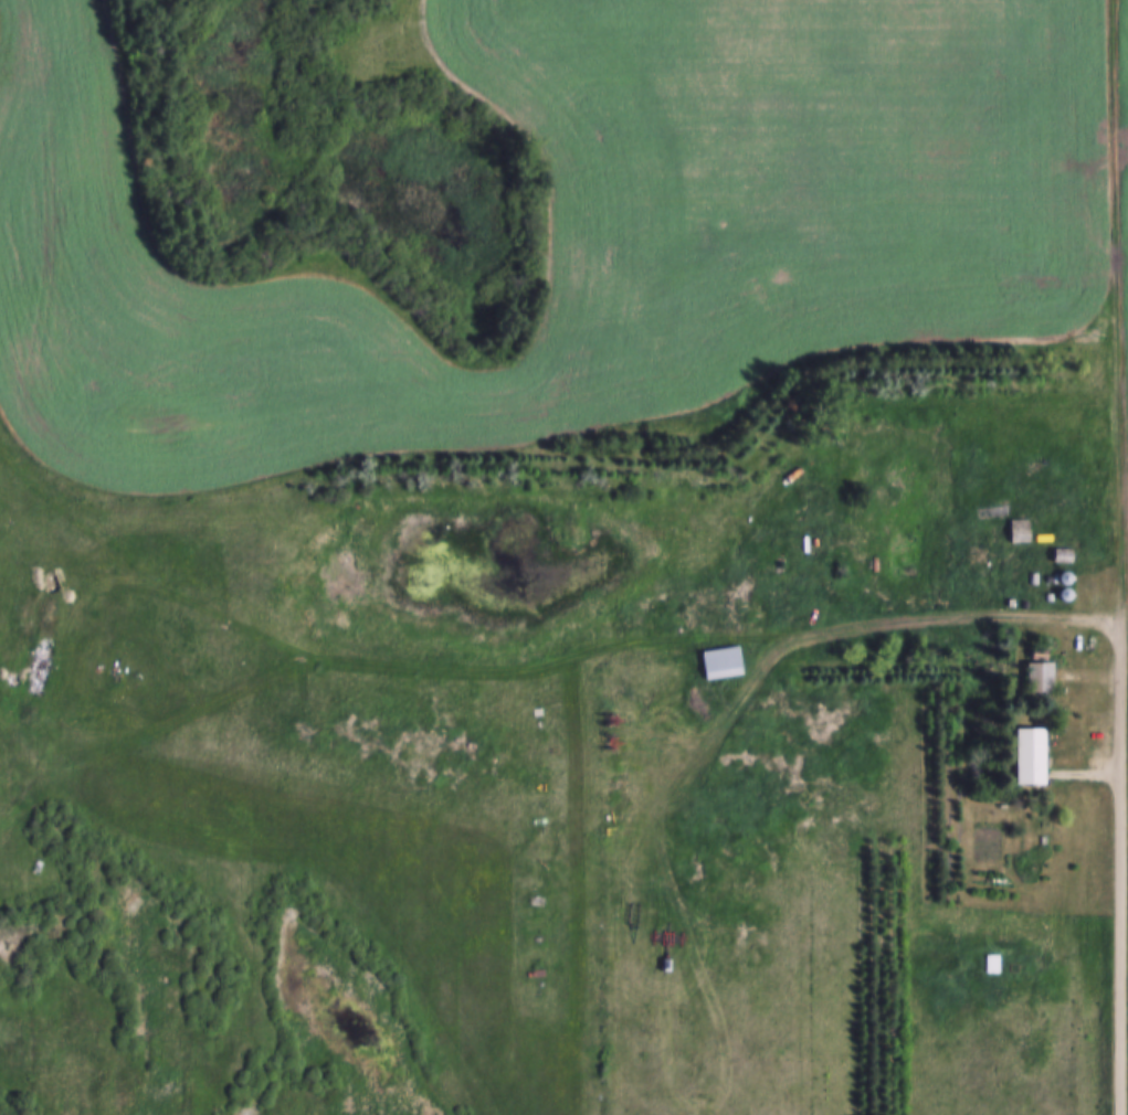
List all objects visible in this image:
building: (1015, 529)
building: (1061, 554)
road: (1119, 556)
building: (1030, 577)
building: (1063, 577)
silo: (1063, 577)
building: (1063, 593)
silo: (1063, 593)
building: (719, 662)
building: (1036, 678)
building: (1027, 756)
building: (989, 964)

